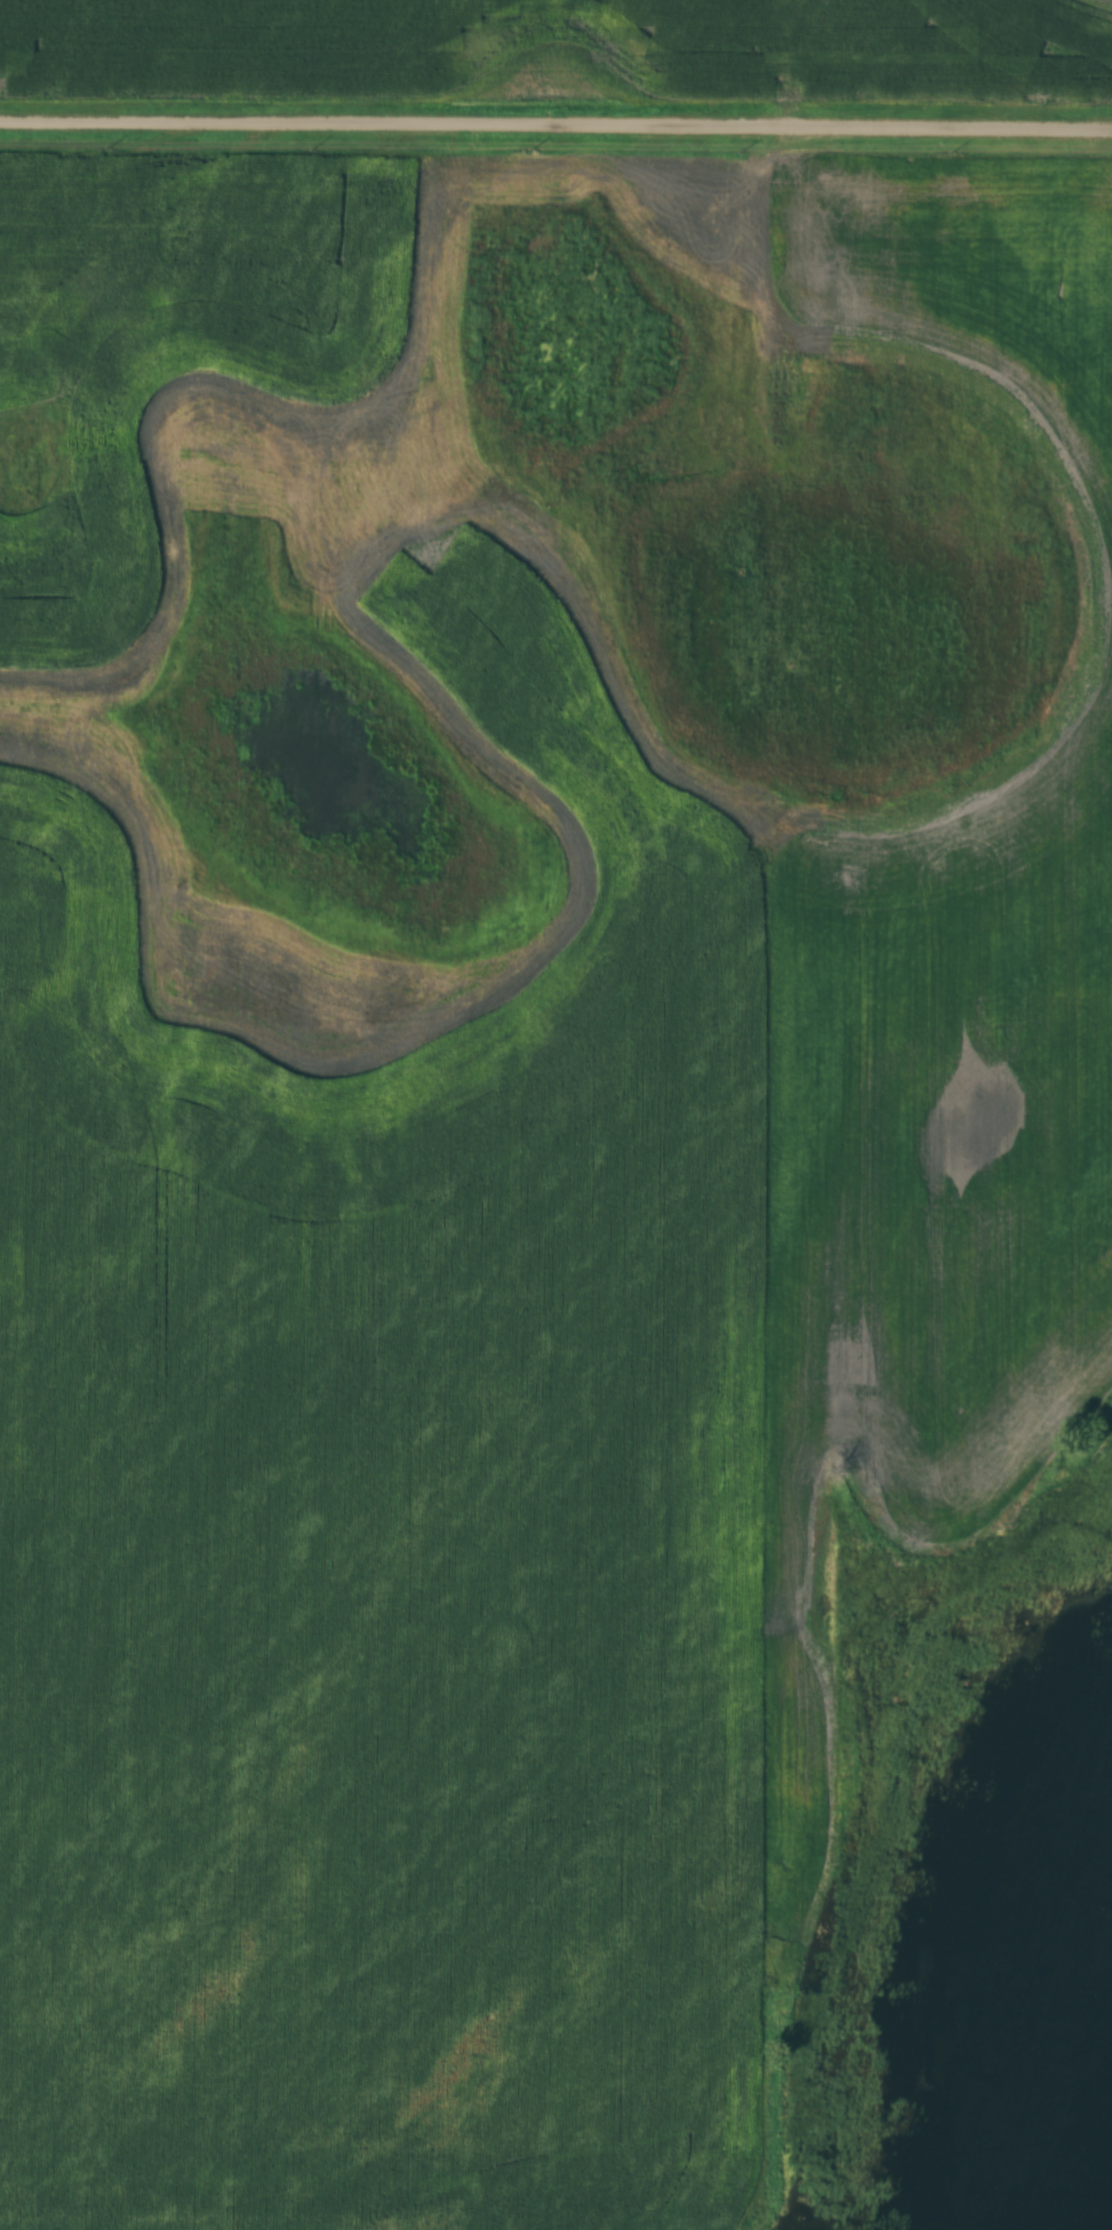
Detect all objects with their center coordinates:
road: (555, 123)

